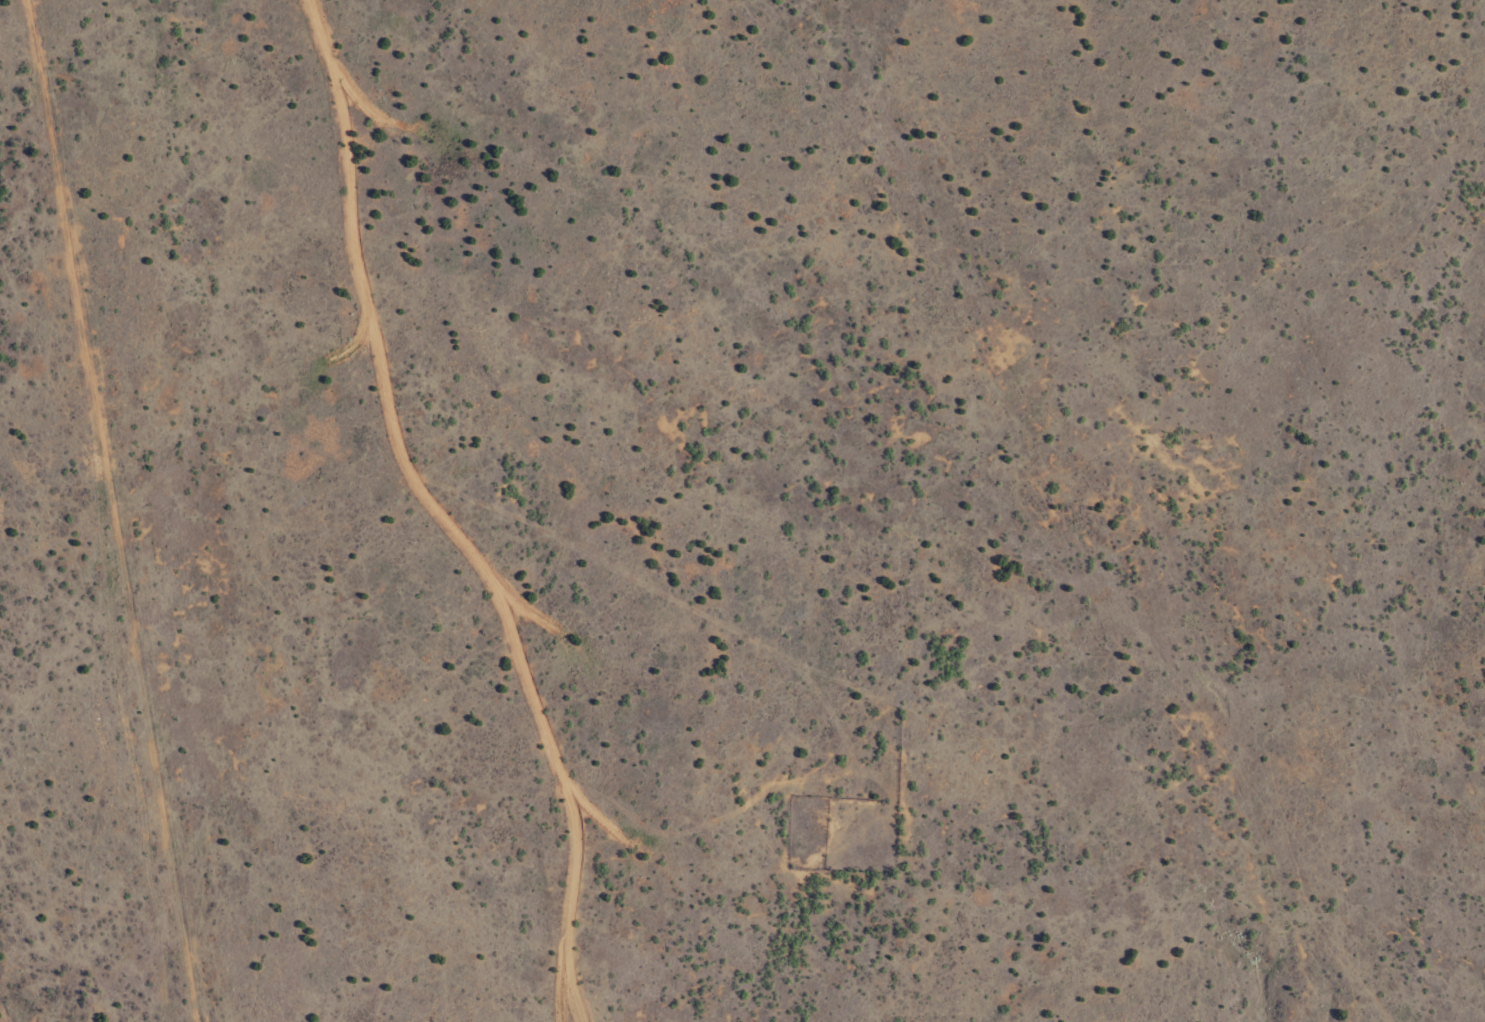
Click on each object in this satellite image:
road: (76, 508)
road: (195, 567)

